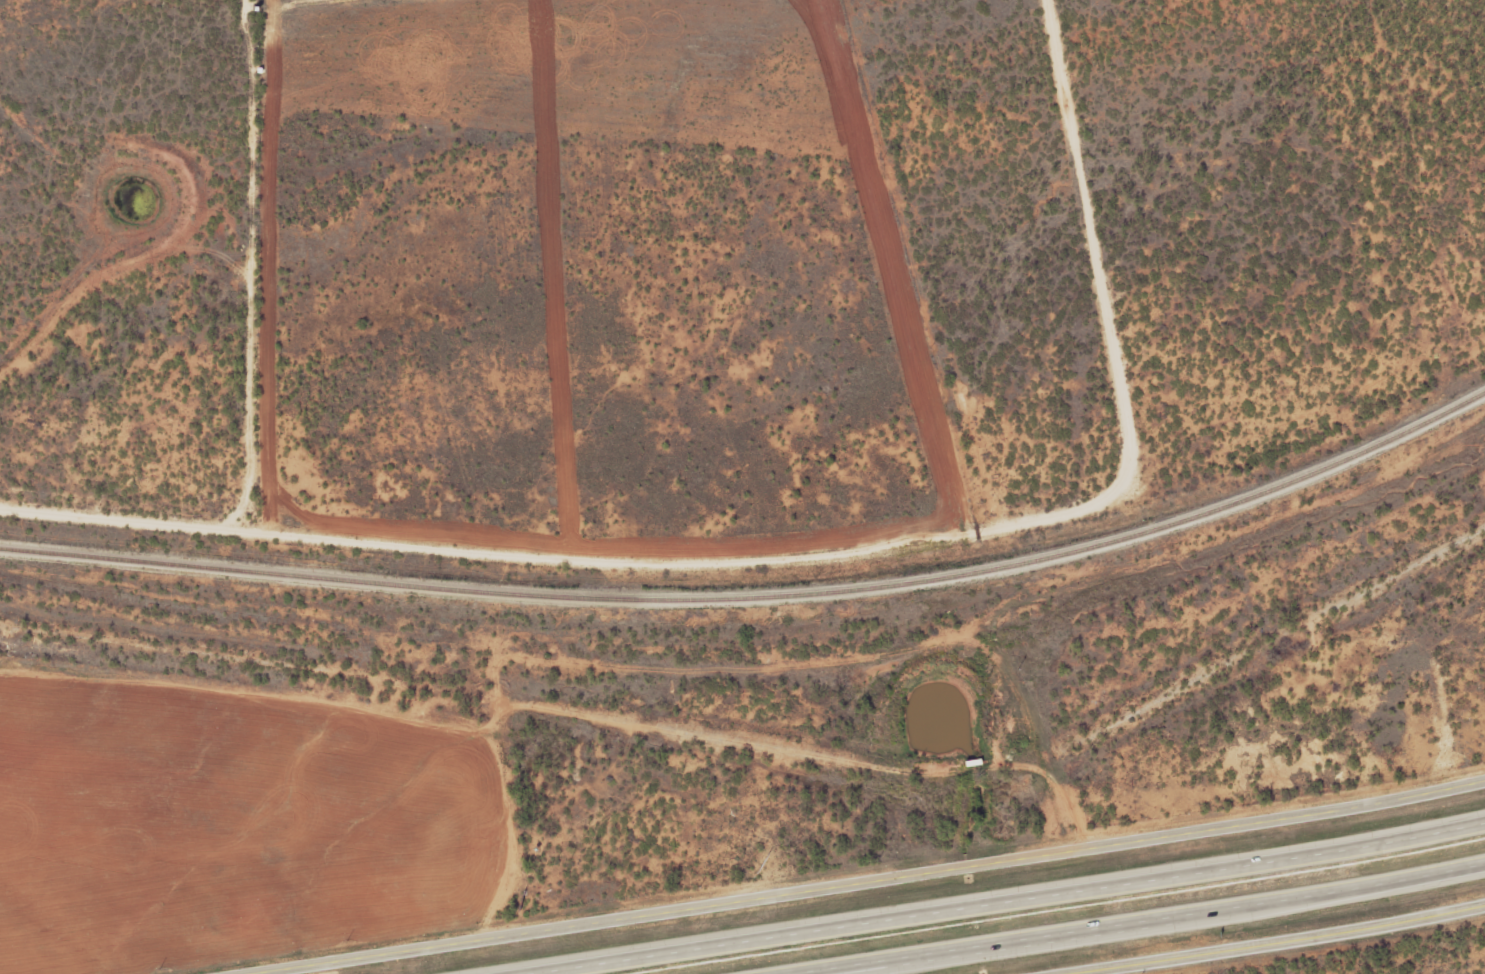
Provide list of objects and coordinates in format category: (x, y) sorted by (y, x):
railway: (758, 598)
road: (1181, 687)
road: (428, 691)
road: (877, 864)
road: (998, 902)
road: (1133, 921)
road: (1258, 937)
road: (929, 958)

